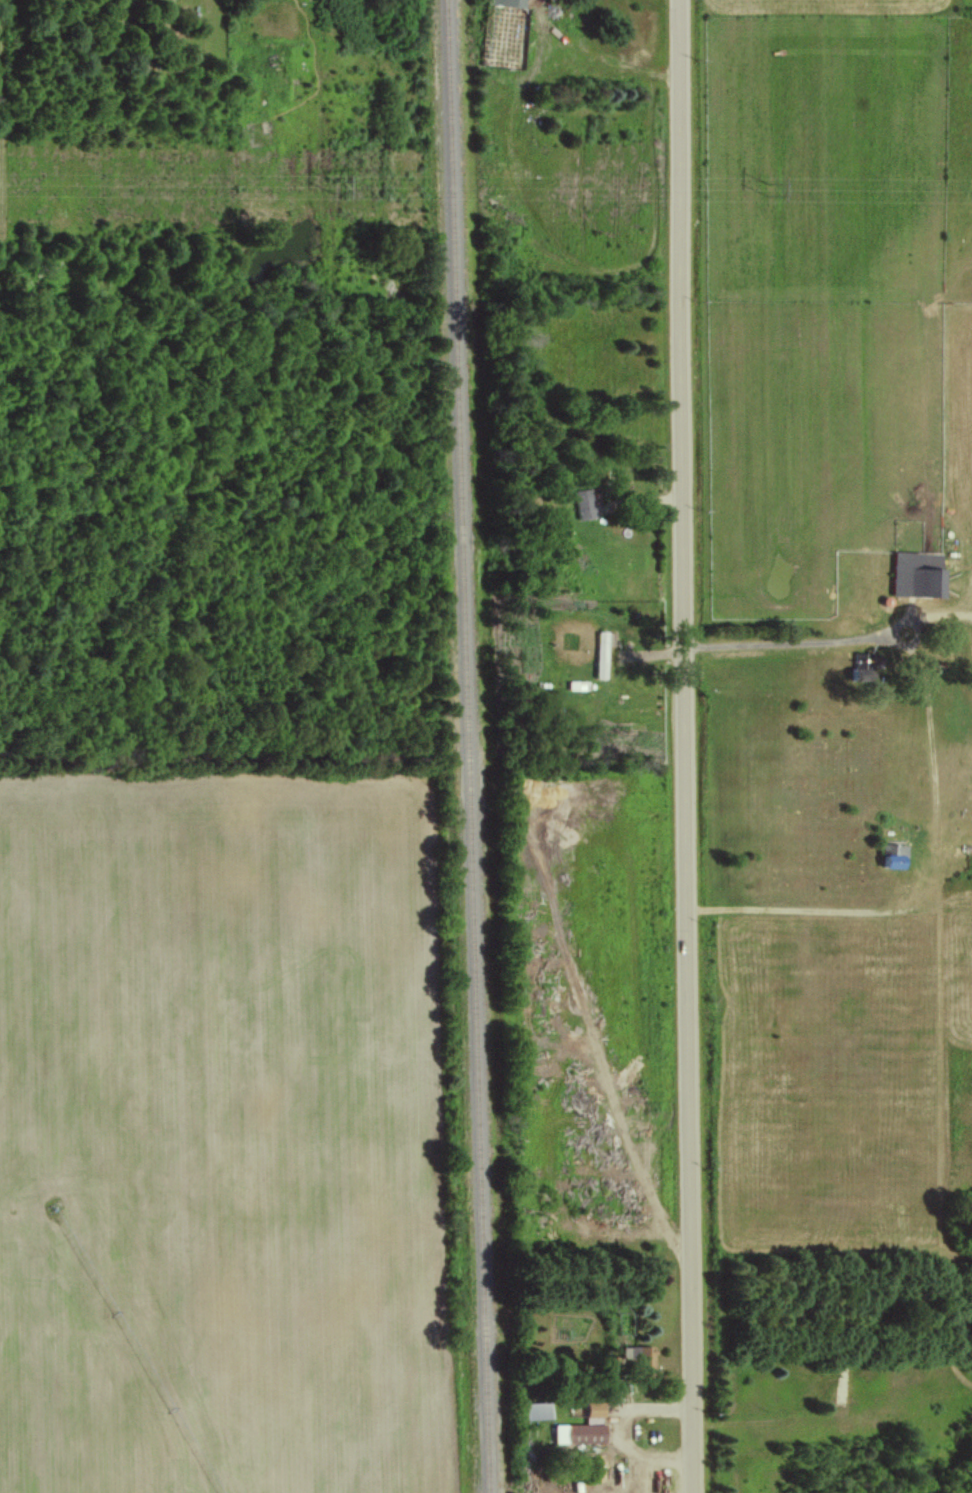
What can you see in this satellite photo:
building: (509, 2)
road: (8, 115)
power tower: (331, 188)
power tower: (774, 190)
building: (585, 503)
building: (918, 573)
road: (794, 643)
building: (603, 653)
building: (863, 661)
railway: (468, 746)
road: (691, 746)
road: (808, 911)
building: (640, 1354)
building: (538, 1410)
building: (584, 1427)
road: (630, 1433)

